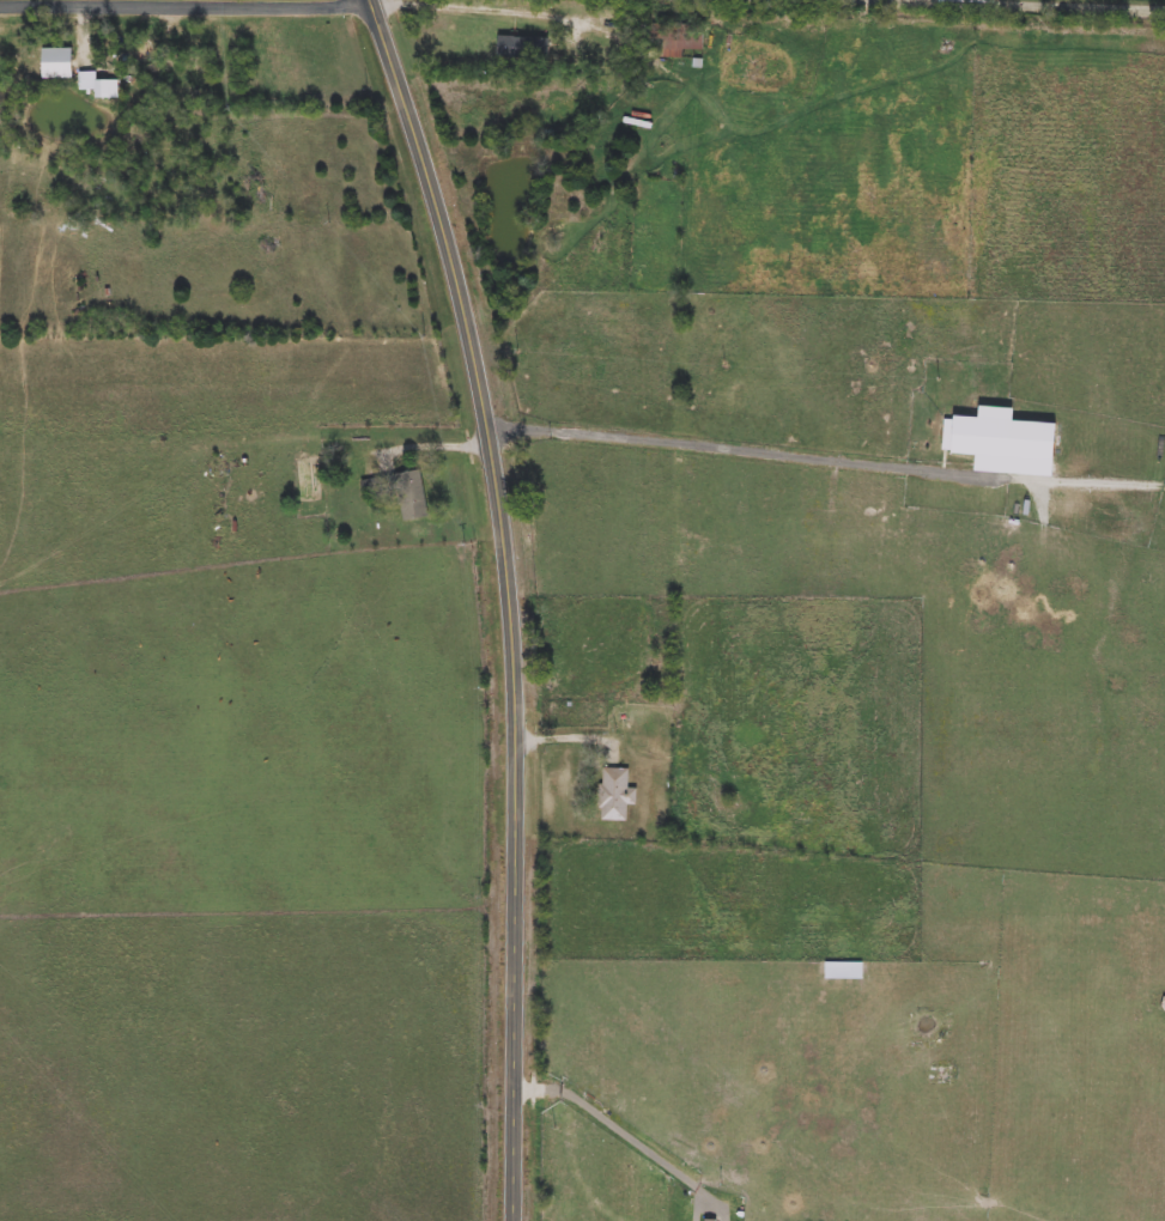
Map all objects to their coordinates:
road: (1040, 4)
road: (184, 6)
road: (517, 18)
building: (681, 42)
building: (523, 48)
building: (57, 62)
building: (194, 68)
road: (698, 442)
road: (437, 443)
building: (400, 492)
road: (508, 601)
road: (566, 737)
building: (615, 794)
road: (629, 1123)

